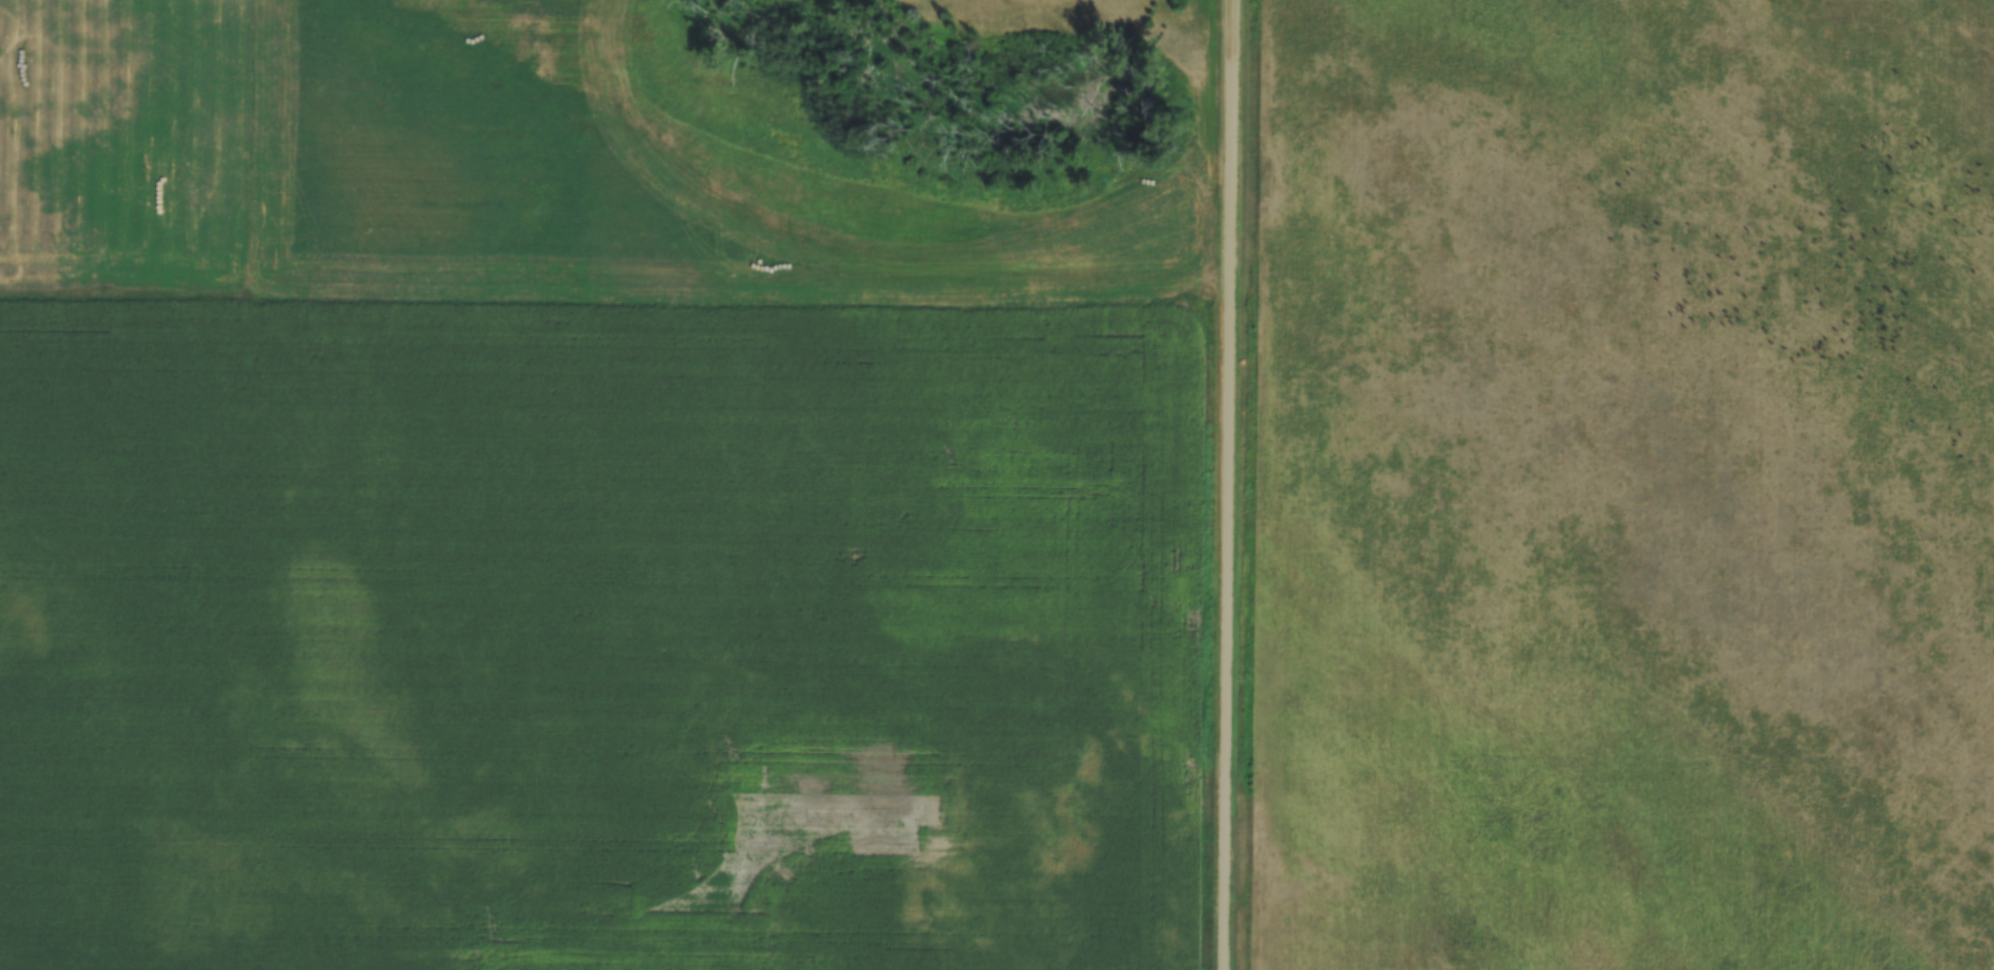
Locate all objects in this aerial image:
road: (1226, 484)

